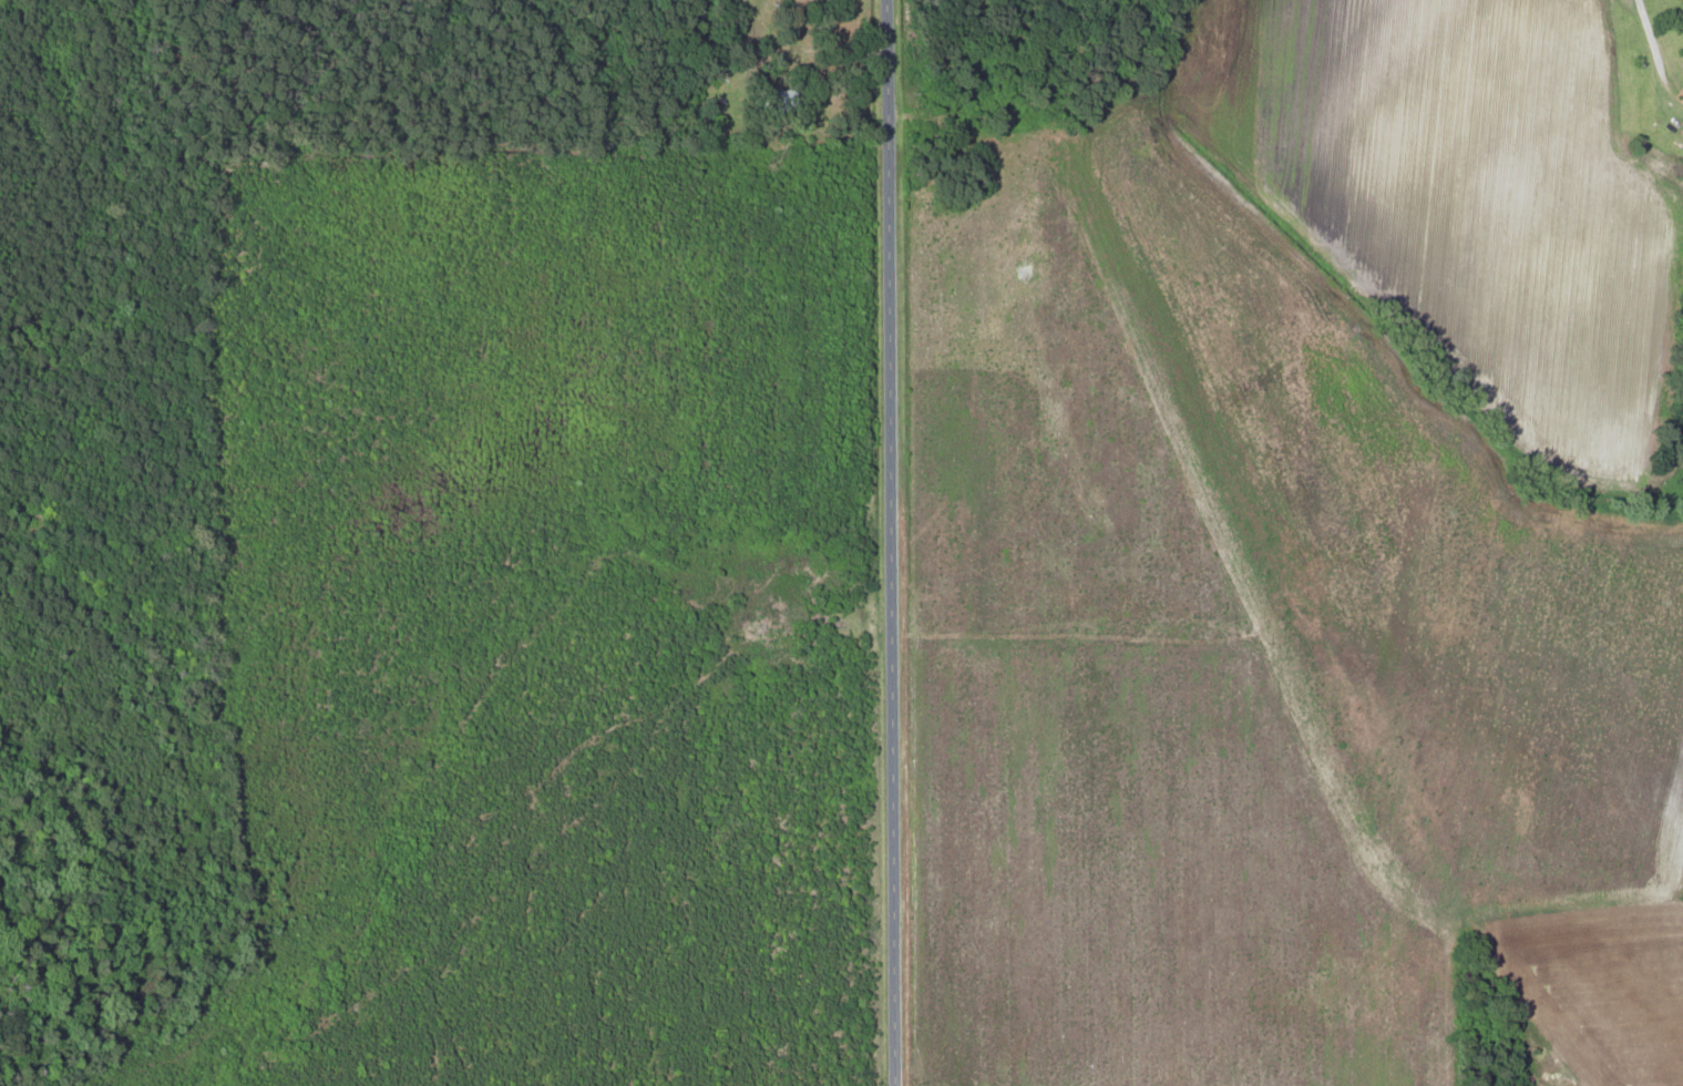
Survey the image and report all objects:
building: (1681, 93)
road: (885, 543)

